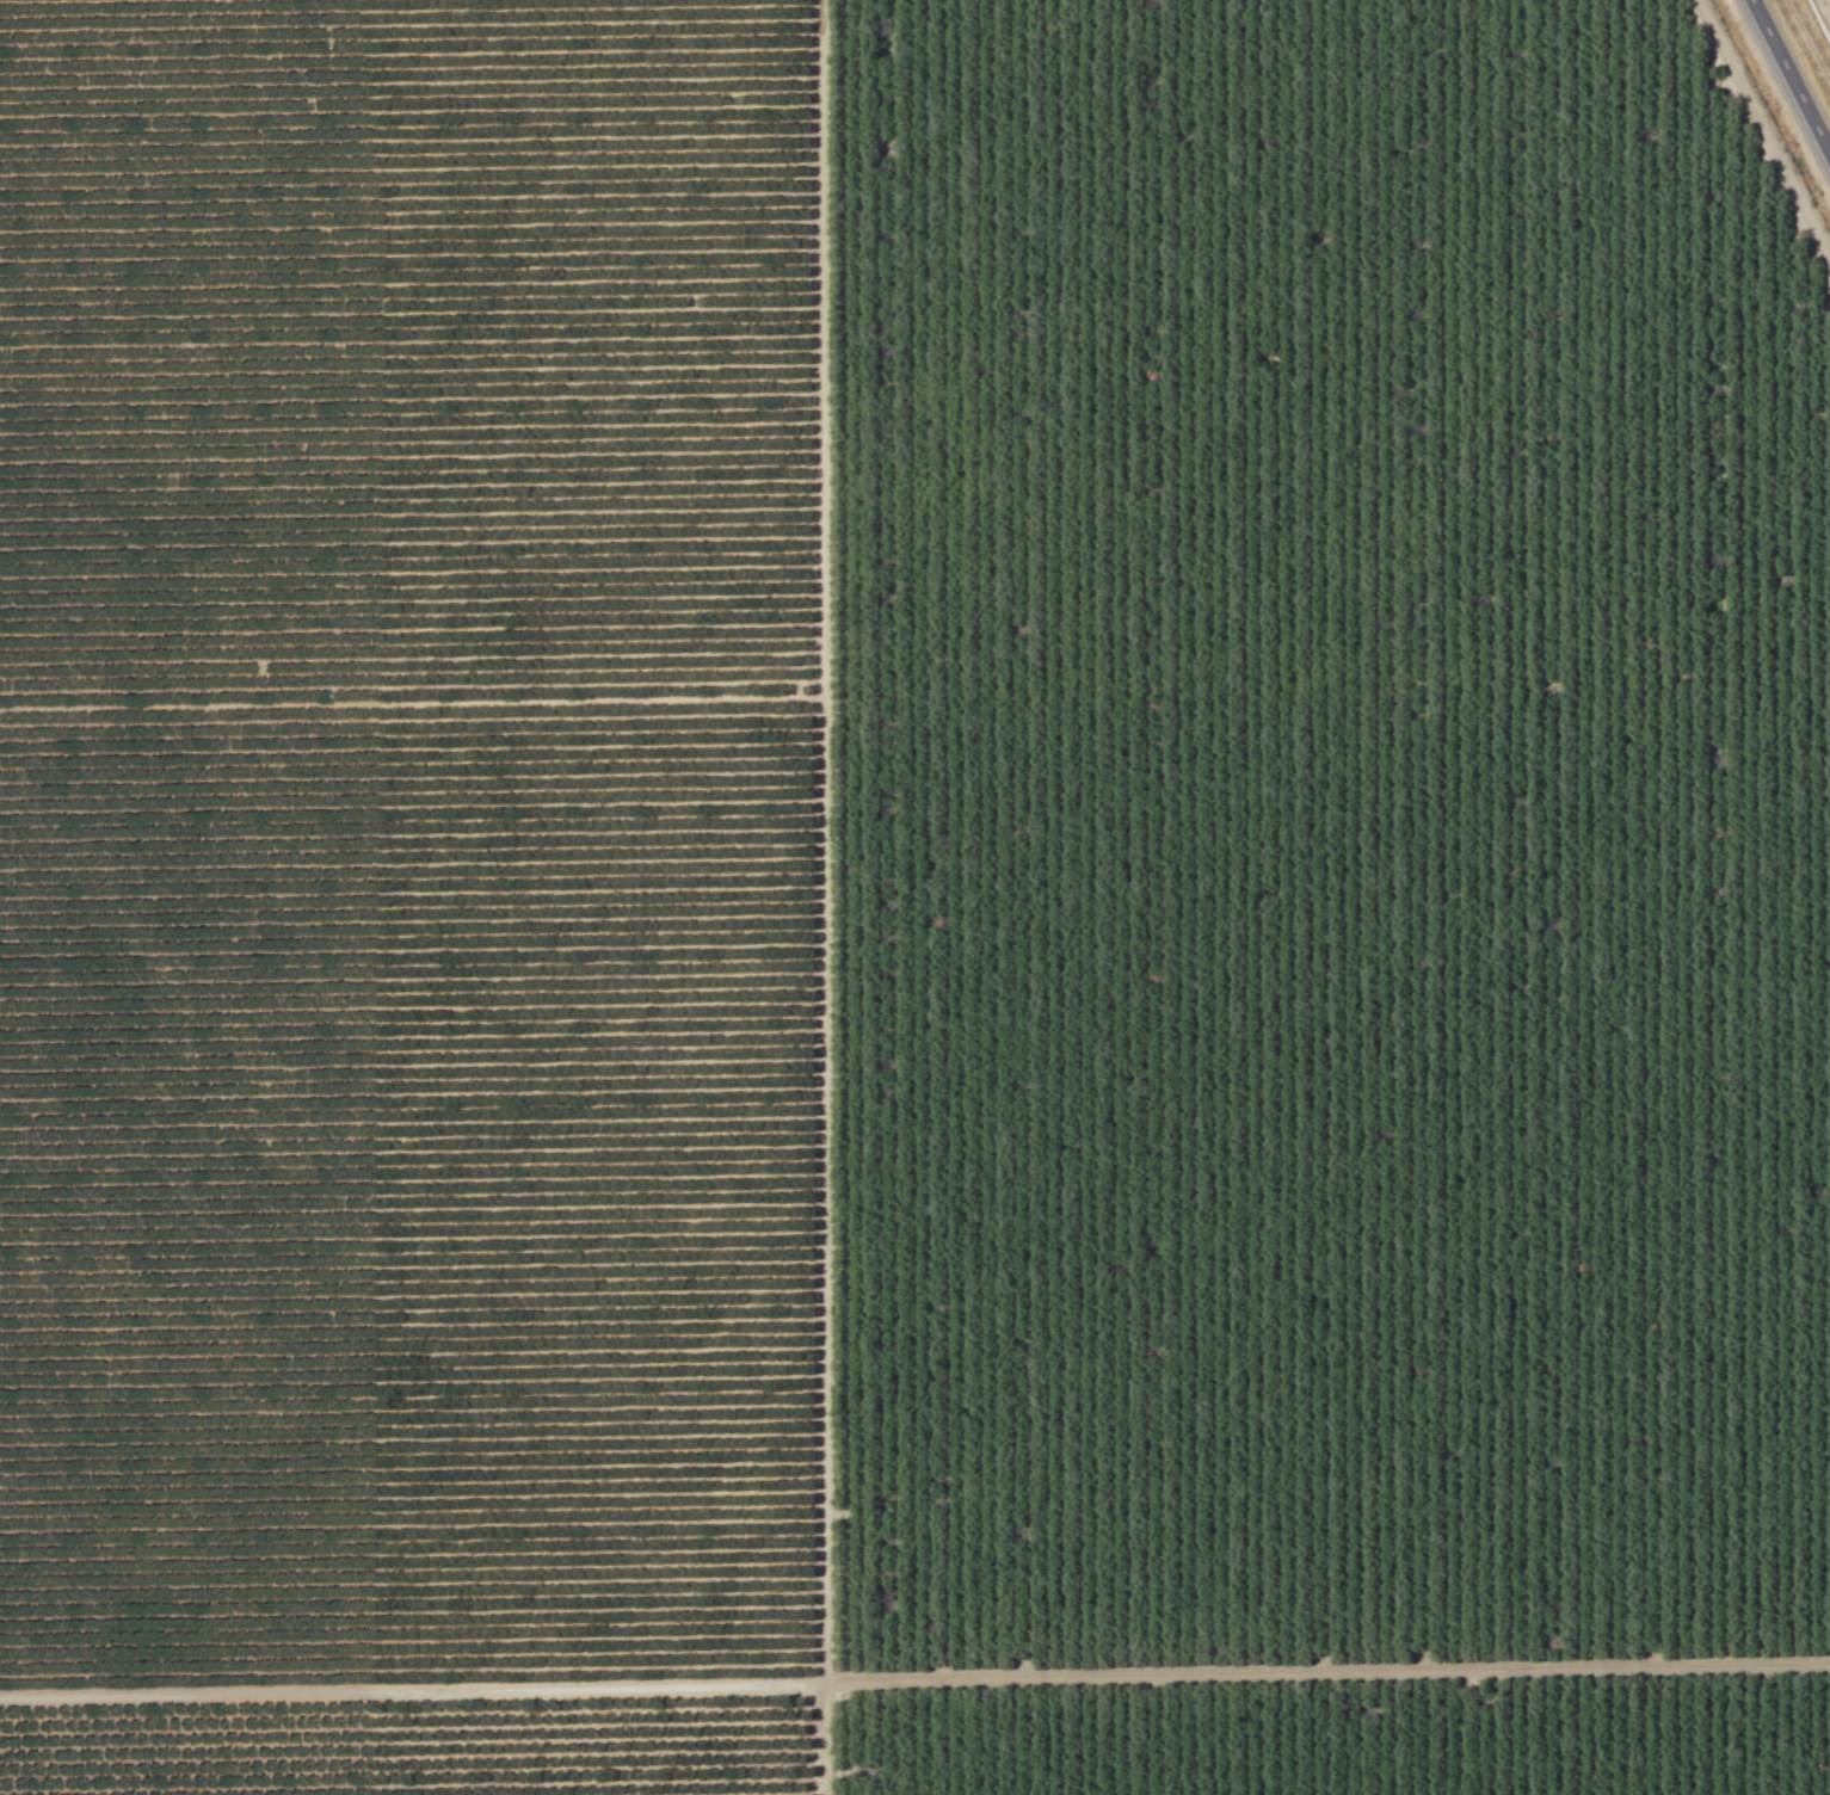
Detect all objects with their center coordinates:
road: (1787, 82)

